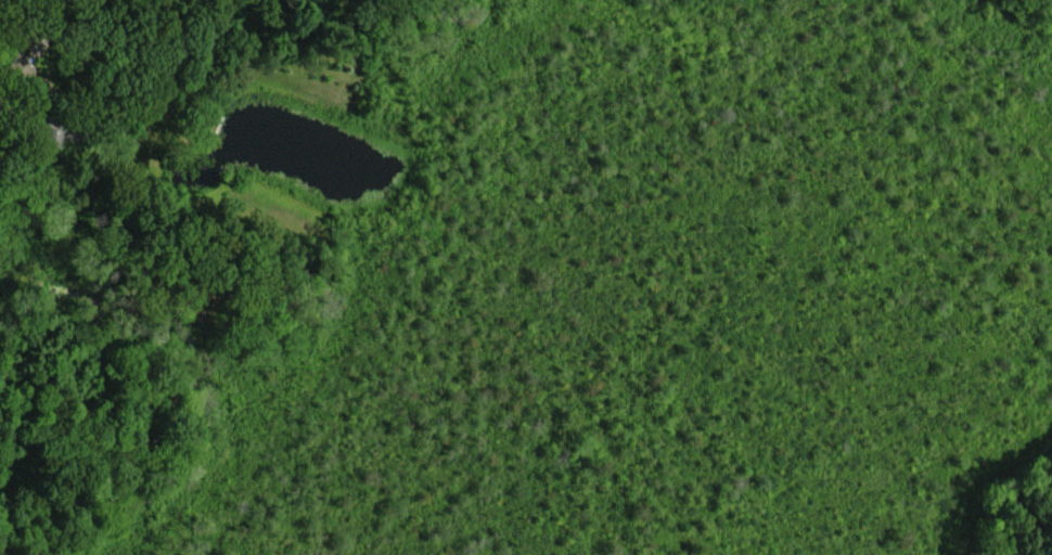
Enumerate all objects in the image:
park: (24, 22)
building: (51, 133)

